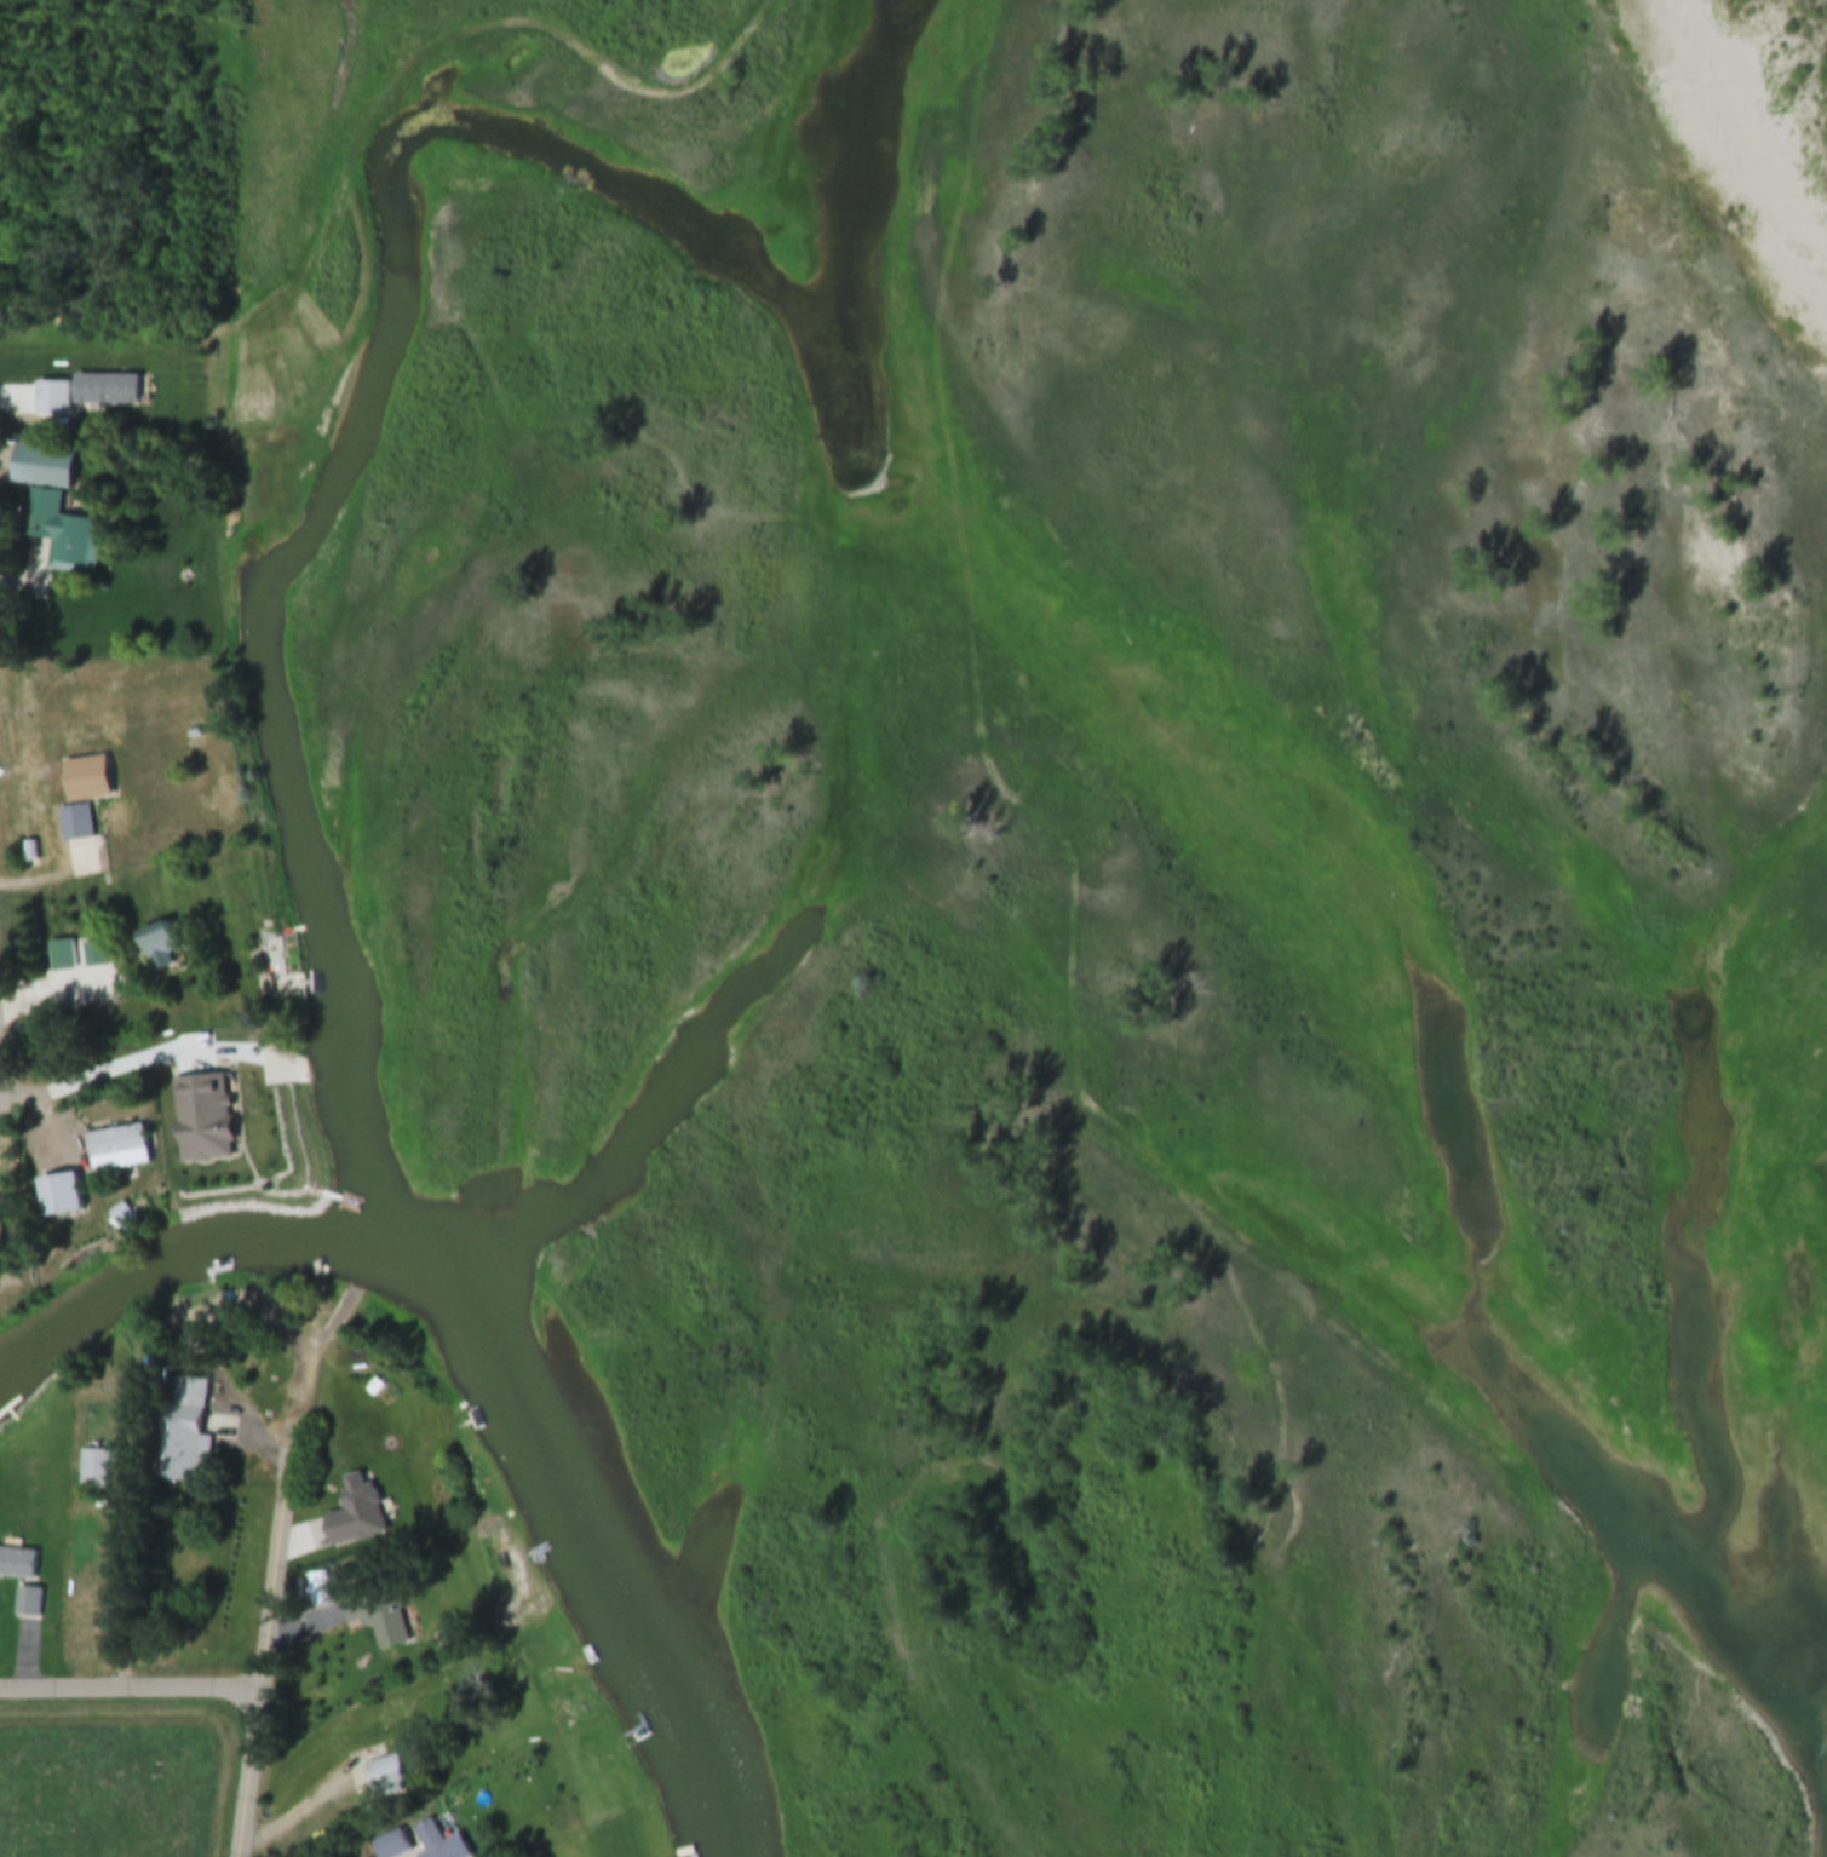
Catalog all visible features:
building: (107, 391)
building: (53, 399)
building: (44, 468)
building: (63, 533)
building: (79, 797)
building: (151, 947)
building: (92, 955)
building: (57, 956)
road: (46, 1110)
building: (113, 1150)
building: (53, 1196)
building: (182, 1436)
building: (96, 1471)
building: (351, 1530)
road: (127, 1553)
building: (15, 1565)
building: (24, 1603)
road: (272, 1606)
building: (374, 1615)
road: (131, 1685)
building: (384, 1778)
road: (311, 1801)
building: (437, 1842)
building: (381, 1847)

